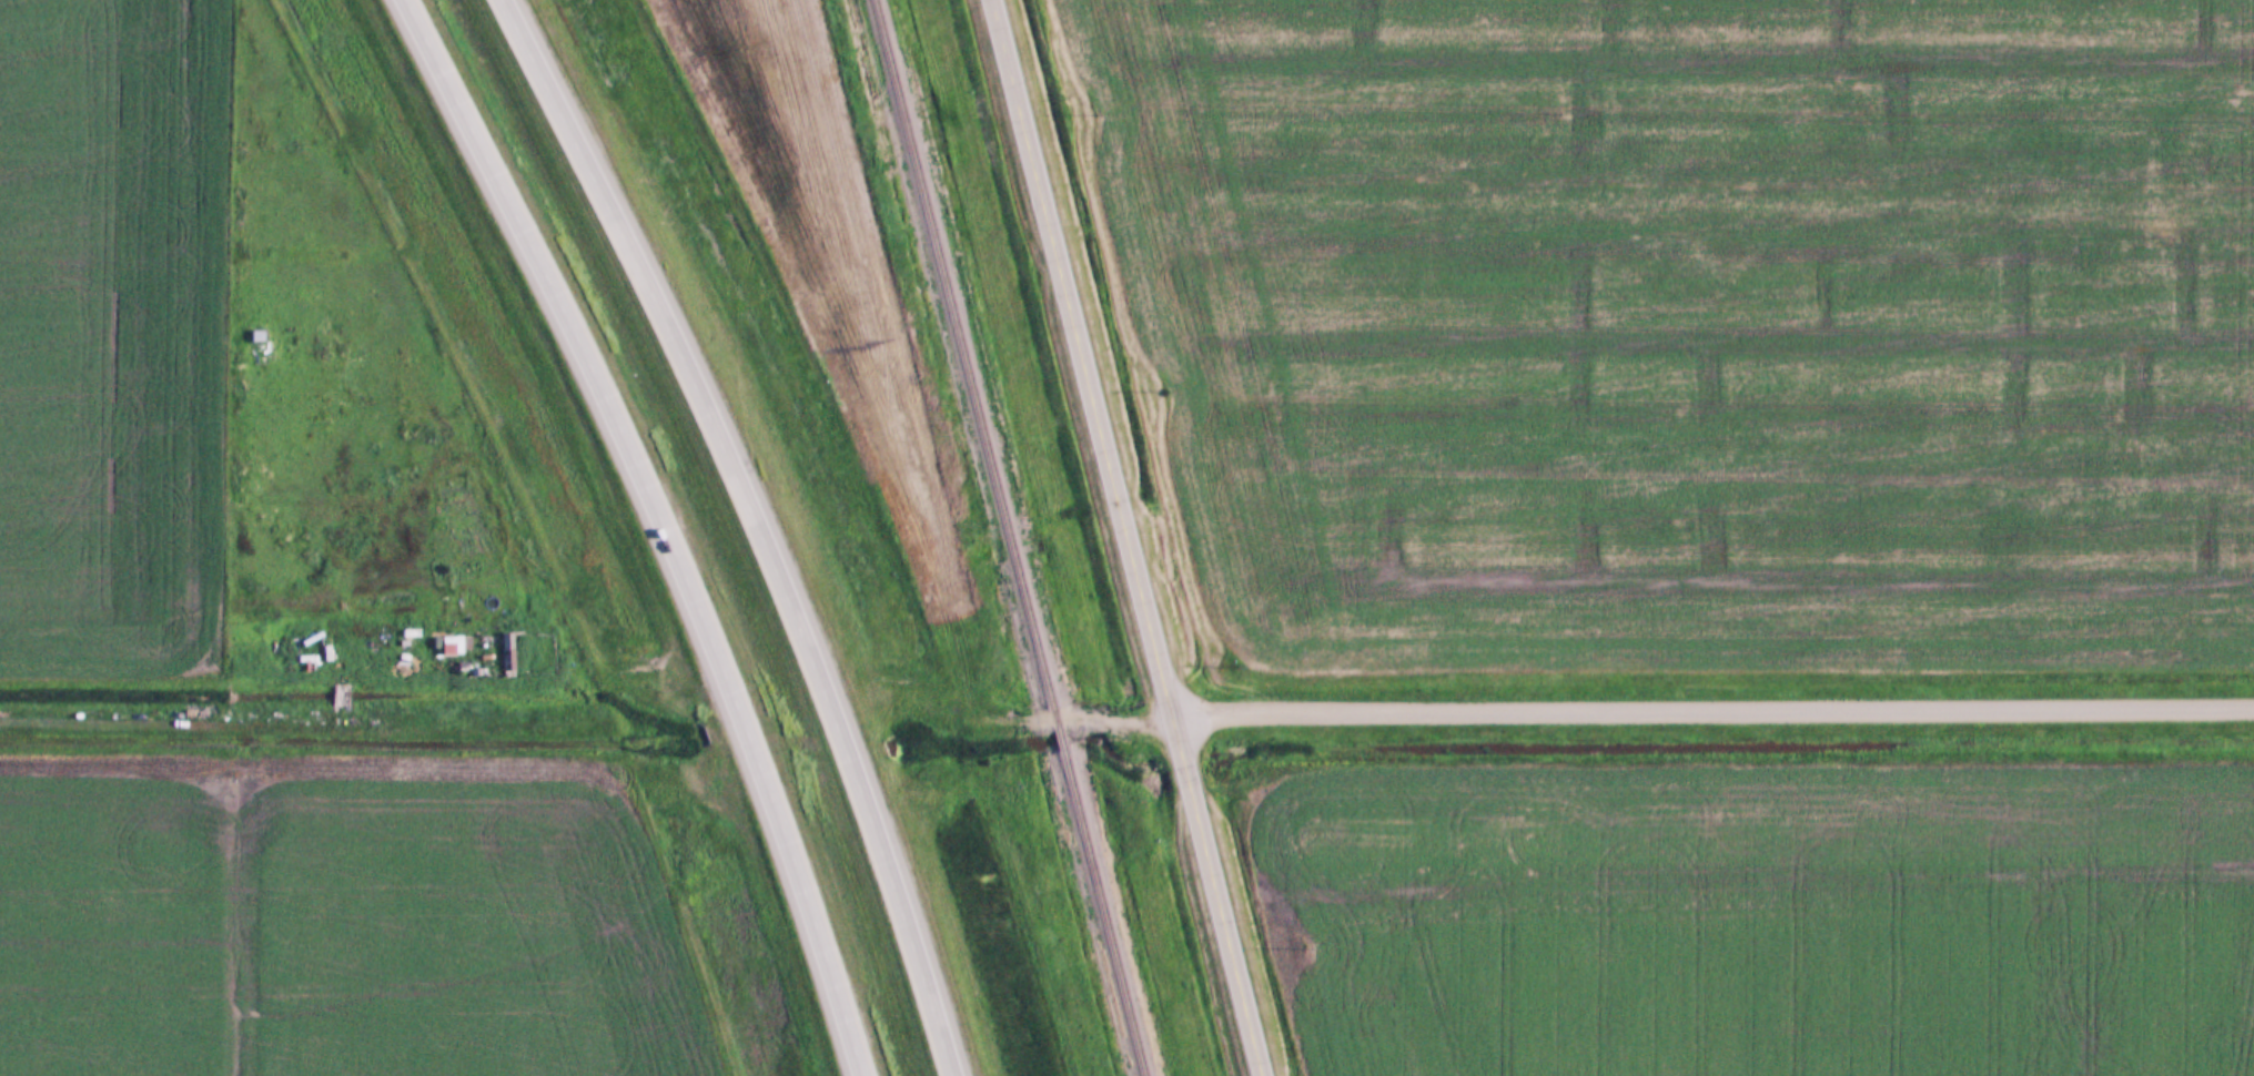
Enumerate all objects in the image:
road: (1078, 358)
road: (666, 524)
road: (757, 526)
railway: (1003, 538)
road: (1708, 707)
road: (1027, 720)
road: (1221, 894)

